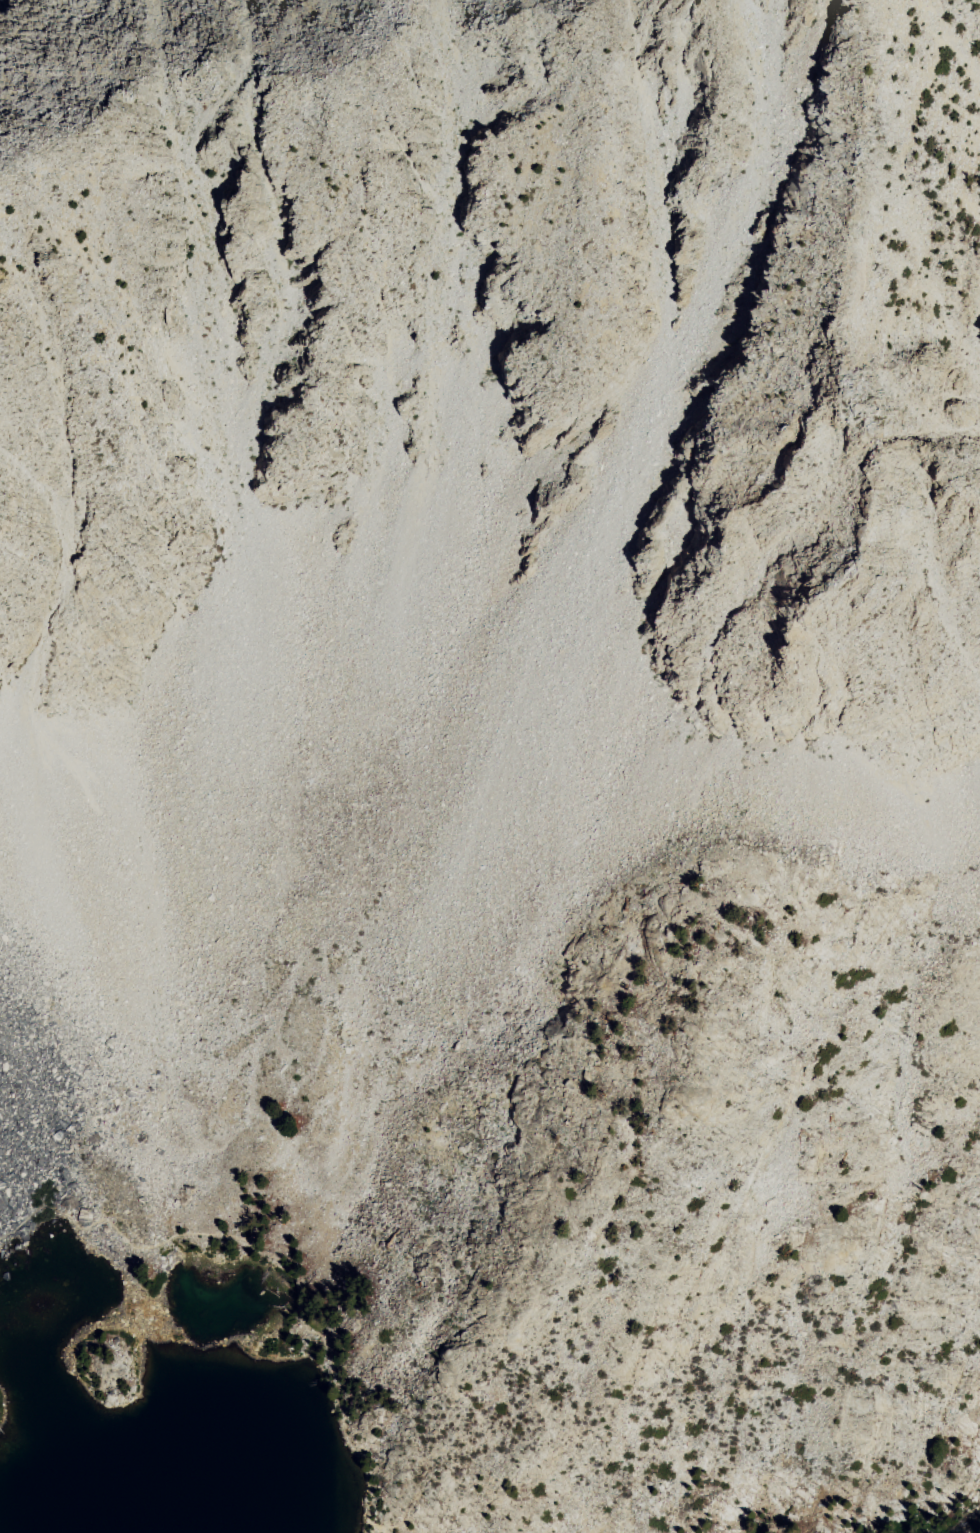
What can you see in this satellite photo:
road: (270, 1258)

